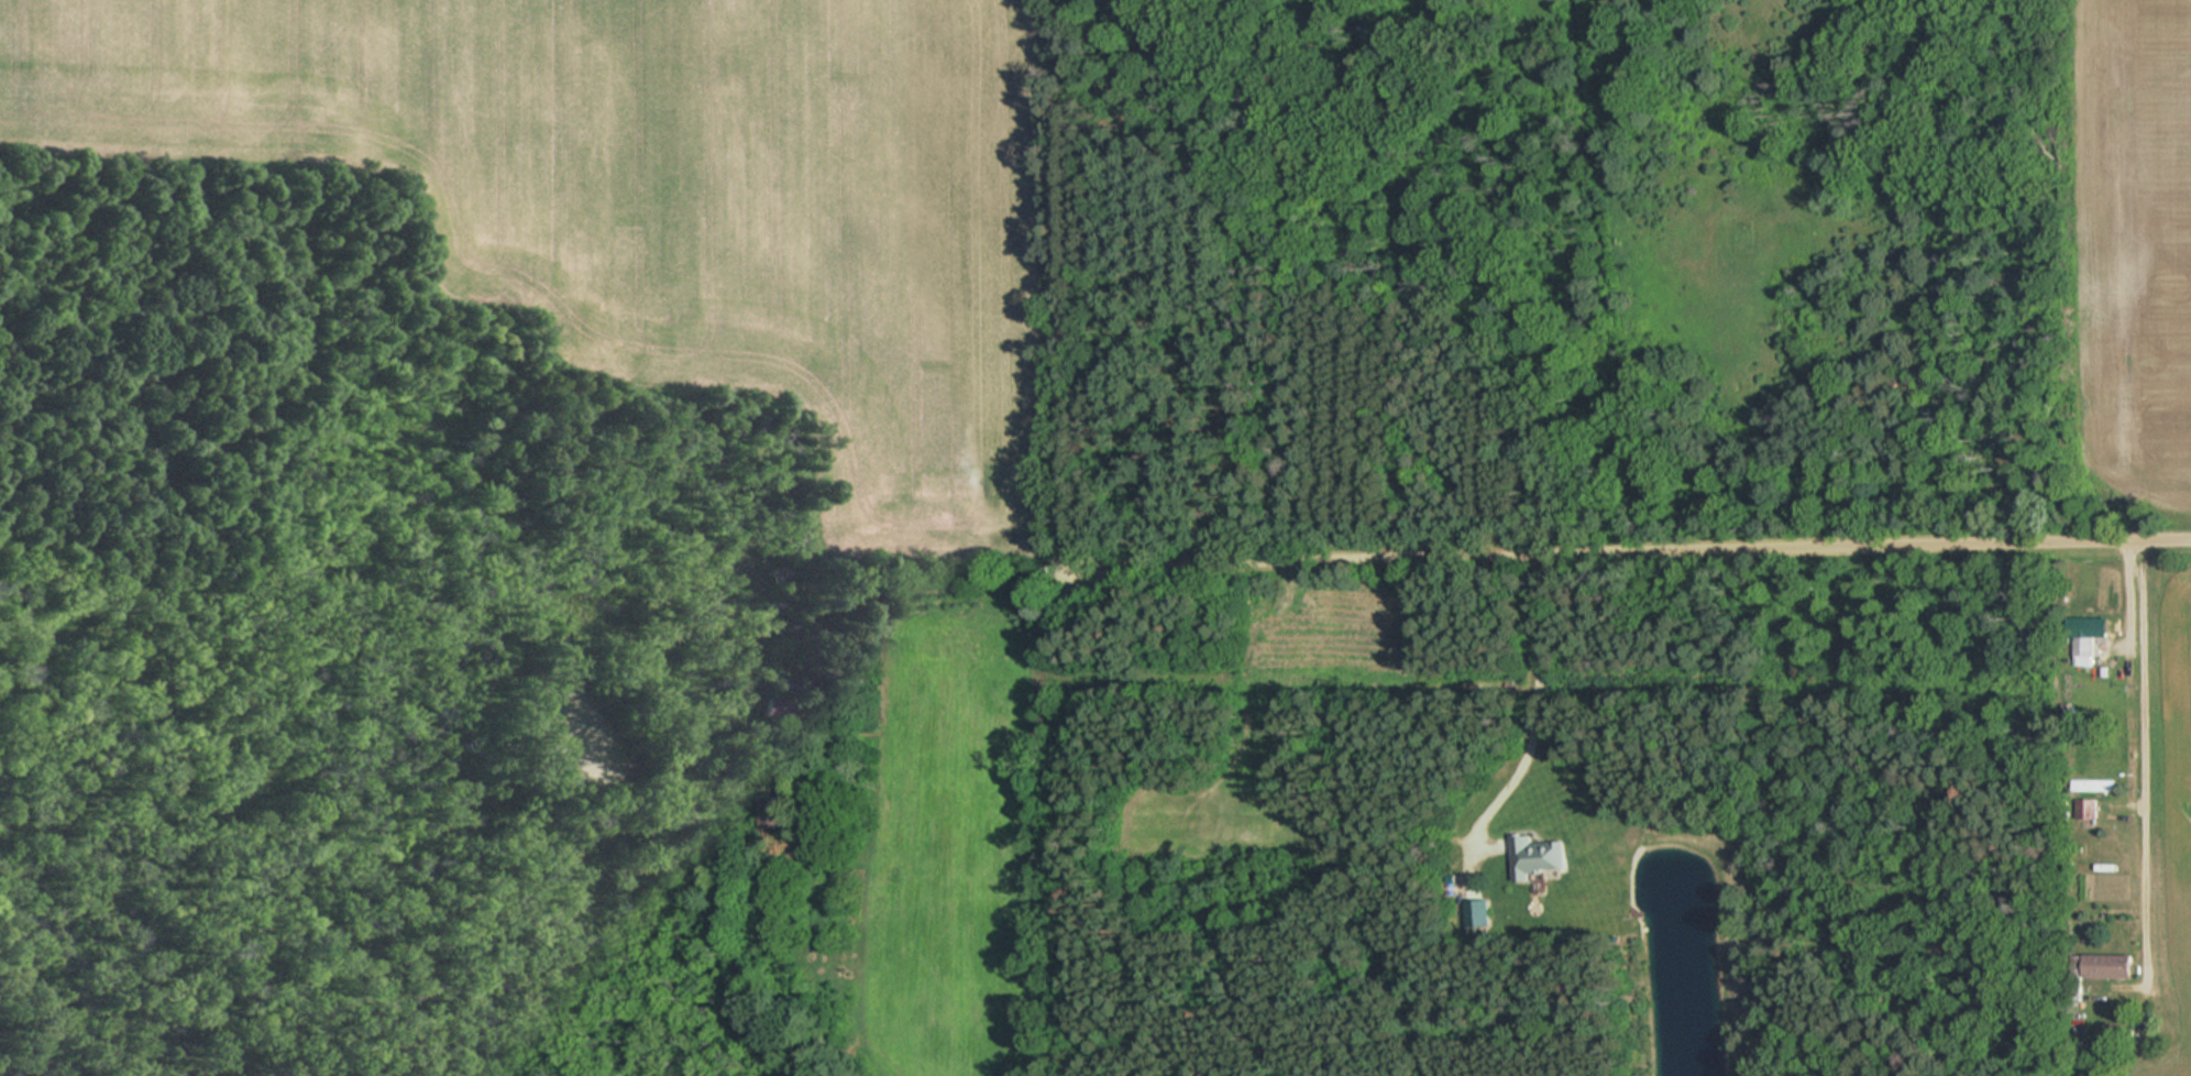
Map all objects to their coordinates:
road: (1625, 535)
building: (2084, 627)
road: (1534, 702)
building: (2100, 787)
road: (2090, 802)
building: (772, 811)
building: (1539, 856)
building: (2111, 965)

